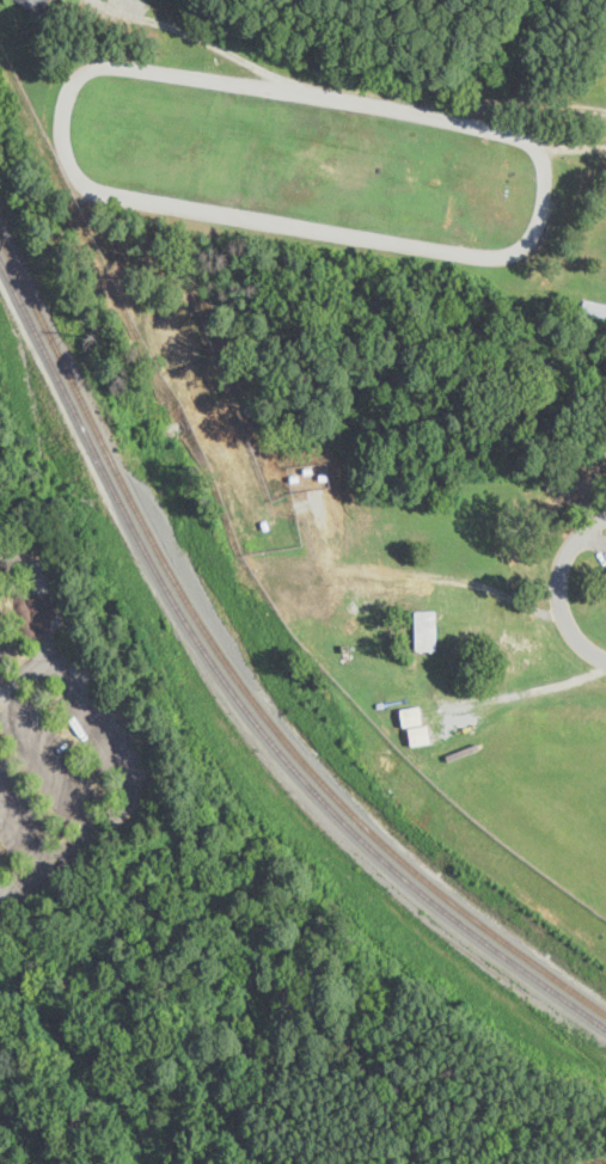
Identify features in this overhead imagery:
building: (32, 4)
road: (335, 97)
road: (506, 134)
road: (191, 209)
building: (594, 307)
road: (590, 540)
parking lot: (601, 546)
road: (558, 587)
building: (345, 649)
road: (24, 672)
railway: (237, 674)
railway: (237, 694)
building: (410, 715)
building: (418, 734)
road: (110, 741)
road: (48, 754)
road: (23, 831)

